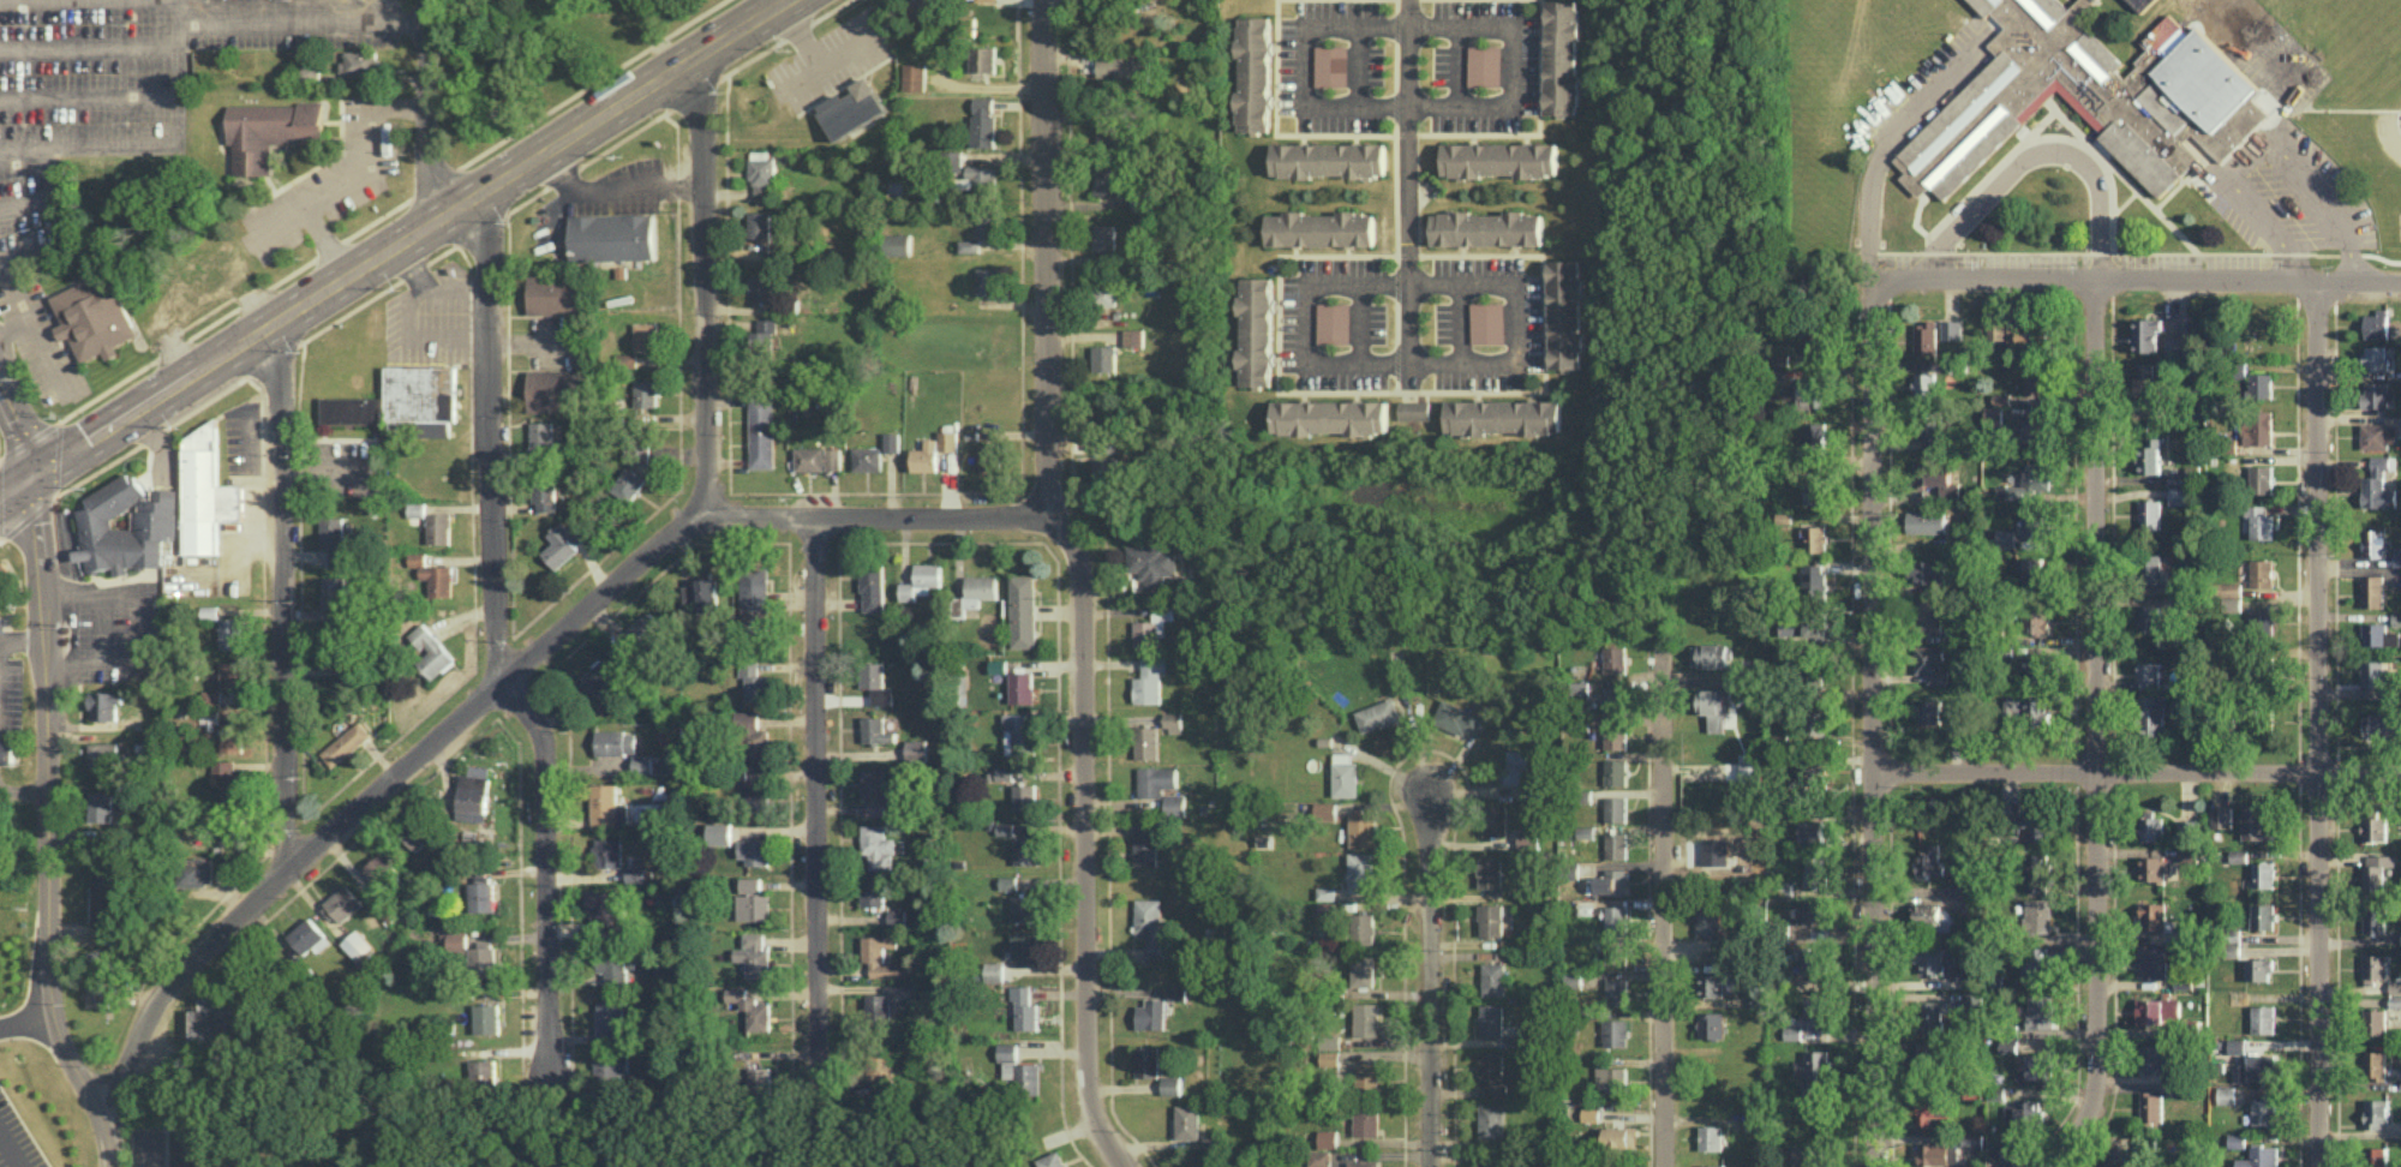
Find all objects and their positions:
building: (969, 0)
road: (782, 4)
building: (921, 5)
building: (2142, 7)
road: (190, 14)
road: (409, 20)
road: (89, 44)
building: (1563, 56)
building: (983, 59)
road: (1304, 61)
building: (359, 62)
building: (1331, 65)
building: (1486, 65)
road: (1511, 66)
building: (1122, 67)
building: (307, 72)
building: (1253, 73)
building: (914, 76)
parking lot: (1926, 80)
road: (89, 97)
building: (2089, 98)
building: (852, 108)
road: (436, 110)
road: (179, 118)
building: (983, 121)
building: (270, 131)
building: (1107, 131)
road: (2261, 144)
road: (23, 149)
road: (1886, 154)
road: (2037, 156)
building: (1330, 158)
building: (1502, 158)
road: (361, 169)
building: (966, 170)
building: (762, 175)
building: (1107, 179)
road: (1405, 188)
parking lot: (2293, 194)
road: (20, 203)
building: (1139, 203)
building: (760, 223)
building: (984, 226)
building: (1319, 228)
building: (1487, 228)
road: (423, 231)
building: (612, 237)
building: (1102, 237)
road: (328, 241)
building: (898, 244)
building: (969, 245)
road: (2110, 251)
parking lot: (2066, 259)
road: (2276, 273)
building: (987, 279)
road: (2133, 280)
road: (430, 286)
building: (764, 287)
road: (707, 289)
building: (1103, 292)
building: (557, 293)
road: (408, 307)
building: (1564, 313)
building: (92, 317)
road: (31, 321)
building: (1486, 322)
building: (1333, 323)
building: (2376, 324)
road: (16, 325)
building: (1951, 329)
building: (1256, 331)
building: (2013, 331)
building: (2145, 334)
building: (645, 335)
road: (447, 336)
building: (764, 336)
building: (2219, 336)
road: (526, 337)
building: (1924, 337)
building: (1813, 341)
building: (2174, 346)
building: (625, 358)
building: (1103, 358)
building: (2376, 358)
road: (1418, 360)
building: (1957, 366)
building: (2035, 379)
building: (1923, 384)
building: (2261, 384)
building: (2148, 388)
building: (556, 389)
building: (1812, 391)
building: (645, 393)
building: (2377, 394)
building: (423, 396)
building: (1413, 408)
building: (1330, 417)
building: (1502, 417)
road: (24, 426)
building: (2257, 426)
building: (2034, 429)
building: (1933, 435)
building: (2378, 435)
building: (1810, 436)
building: (543, 439)
building: (892, 441)
building: (2231, 444)
building: (934, 450)
building: (641, 451)
building: (2150, 455)
building: (818, 457)
building: (1106, 469)
building: (1932, 472)
building: (2185, 475)
building: (2261, 478)
building: (628, 484)
building: (2025, 484)
road: (26, 485)
building: (2378, 485)
building: (1948, 490)
building: (1813, 491)
building: (206, 492)
building: (545, 492)
building: (2178, 495)
building: (181, 513)
building: (2149, 514)
building: (1926, 521)
building: (2259, 522)
building: (127, 523)
building: (2034, 525)
road: (1872, 534)
building: (1814, 538)
building: (2005, 538)
building: (337, 540)
building: (2373, 543)
building: (2396, 556)
building: (1152, 564)
building: (2151, 568)
building: (2031, 569)
building: (1929, 570)
building: (2262, 571)
building: (4, 574)
building: (433, 575)
building: (921, 580)
building: (1814, 580)
road: (1079, 582)
building: (982, 586)
building: (335, 587)
building: (2232, 588)
building: (872, 590)
building: (2372, 590)
building: (754, 591)
building: (689, 593)
building: (707, 594)
road: (285, 596)
building: (2, 599)
building: (1024, 610)
building: (209, 611)
building: (334, 615)
building: (1929, 616)
building: (2148, 617)
building: (2262, 618)
building: (2396, 618)
building: (2035, 620)
road: (139, 624)
road: (101, 628)
building: (1818, 628)
parking lot: (115, 630)
building: (230, 633)
building: (2379, 634)
road: (19, 639)
building: (430, 651)
road: (498, 658)
building: (1615, 659)
building: (1930, 663)
building: (999, 665)
building: (2036, 669)
building: (750, 672)
building: (2372, 672)
building: (872, 674)
building: (2148, 674)
building: (230, 675)
building: (599, 676)
building: (1023, 686)
building: (1580, 688)
road: (492, 693)
building: (210, 696)
building: (1613, 699)
building: (104, 704)
building: (1712, 707)
building: (2036, 710)
building: (1930, 711)
building: (1378, 714)
building: (2151, 714)
building: (1461, 718)
building: (1820, 720)
building: (1173, 722)
road: (2317, 723)
building: (2378, 725)
road: (2096, 728)
building: (875, 729)
building: (753, 734)
building: (1018, 734)
building: (230, 735)
building: (1615, 735)
building: (615, 742)
building: (1146, 742)
building: (345, 743)
building: (103, 753)
building: (1520, 768)
building: (1615, 771)
building: (1005, 772)
road: (2136, 772)
building: (1345, 774)
building: (1156, 779)
building: (228, 780)
building: (878, 786)
road: (20, 790)
building: (473, 796)
building: (1025, 796)
building: (1174, 804)
building: (100, 806)
building: (607, 806)
building: (875, 808)
building: (1615, 808)
road: (816, 810)
building: (1325, 810)
building: (2221, 816)
building: (1495, 819)
building: (2256, 821)
building: (2038, 825)
building: (1363, 827)
building: (2151, 827)
building: (2187, 828)
building: (2373, 828)
road: (44, 830)
building: (1585, 831)
building: (1813, 831)
building: (719, 832)
building: (418, 838)
building: (1145, 842)
building: (1616, 844)
building: (878, 848)
building: (609, 851)
building: (754, 851)
building: (2189, 855)
building: (2239, 855)
building: (1929, 860)
building: (2154, 868)
building: (381, 869)
building: (2377, 869)
building: (1816, 870)
building: (1361, 872)
building: (2037, 872)
building: (635, 874)
building: (2263, 874)
building: (1612, 881)
building: (752, 884)
building: (1959, 887)
building: (1325, 892)
building: (873, 893)
building: (481, 896)
building: (342, 903)
building: (754, 906)
building: (1025, 908)
building: (605, 910)
road: (1663, 910)
building: (1813, 911)
building: (1927, 915)
building: (2038, 915)
building: (2262, 915)
building: (2152, 916)
building: (1616, 917)
building: (2373, 918)
building: (1708, 921)
building: (1361, 927)
building: (307, 934)
building: (353, 941)
building: (454, 942)
building: (1025, 946)
building: (1613, 951)
building: (755, 954)
building: (882, 956)
road: (1429, 957)
building: (1813, 958)
building: (483, 959)
building: (1929, 959)
building: (2034, 962)
building: (2154, 962)
building: (2373, 968)
road: (1872, 969)
building: (2258, 969)
building: (1363, 970)
building: (994, 971)
building: (1573, 980)
building: (1711, 985)
building: (2395, 986)
building: (1616, 991)
building: (98, 993)
building: (1176, 993)
building: (2395, 1000)
building: (1024, 1007)
building: (752, 1009)
building: (2157, 1010)
building: (2040, 1011)
building: (1815, 1012)
building: (1929, 1016)
building: (486, 1018)
building: (1366, 1019)
building: (1491, 1019)
building: (610, 1021)
building: (2375, 1021)
road: (28, 1023)
building: (1711, 1024)
building: (1615, 1033)
building: (2007, 1043)
building: (2237, 1046)
building: (1007, 1051)
building: (1329, 1057)
building: (1927, 1057)
building: (2152, 1057)
building: (1816, 1063)
building: (2373, 1064)
building: (2040, 1066)
building: (2258, 1067)
building: (1010, 1069)
building: (1491, 1071)
building: (1028, 1077)
building: (1366, 1077)
building: (760, 1078)
building: (1610, 1078)
building: (1810, 1091)
building: (2226, 1094)
building: (2150, 1106)
building: (1930, 1107)
building: (2263, 1111)
building: (2376, 1112)
building: (2023, 1113)
building: (1589, 1114)
building: (1366, 1118)
building: (1619, 1136)
building: (1710, 1137)
building: (1327, 1138)
building: (2237, 1139)
building: (1970, 1143)
road: (11, 1149)
building: (2007, 1150)
building: (1938, 1153)
road: (137, 1155)
building: (1807, 1155)
building: (2376, 1156)
building: (1319, 1157)
building: (2259, 1157)
building: (1052, 1160)
building: (1205, 1160)
building: (1363, 1163)
building: (1490, 1165)
building: (1712, 1165)
building: (2007, 1166)

